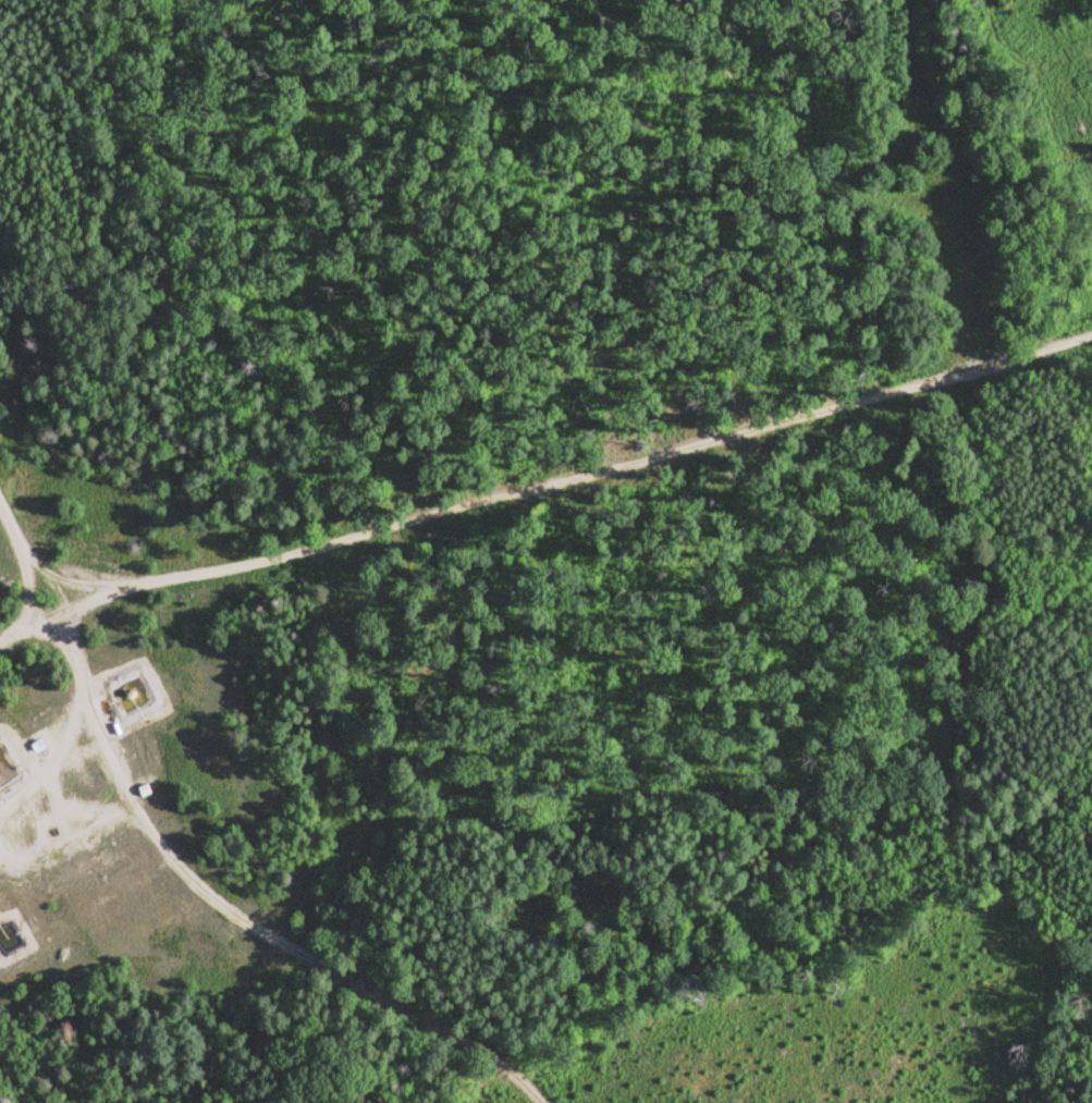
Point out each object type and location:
road: (578, 481)
road: (27, 557)
road: (30, 618)
road: (229, 920)
building: (4, 940)

